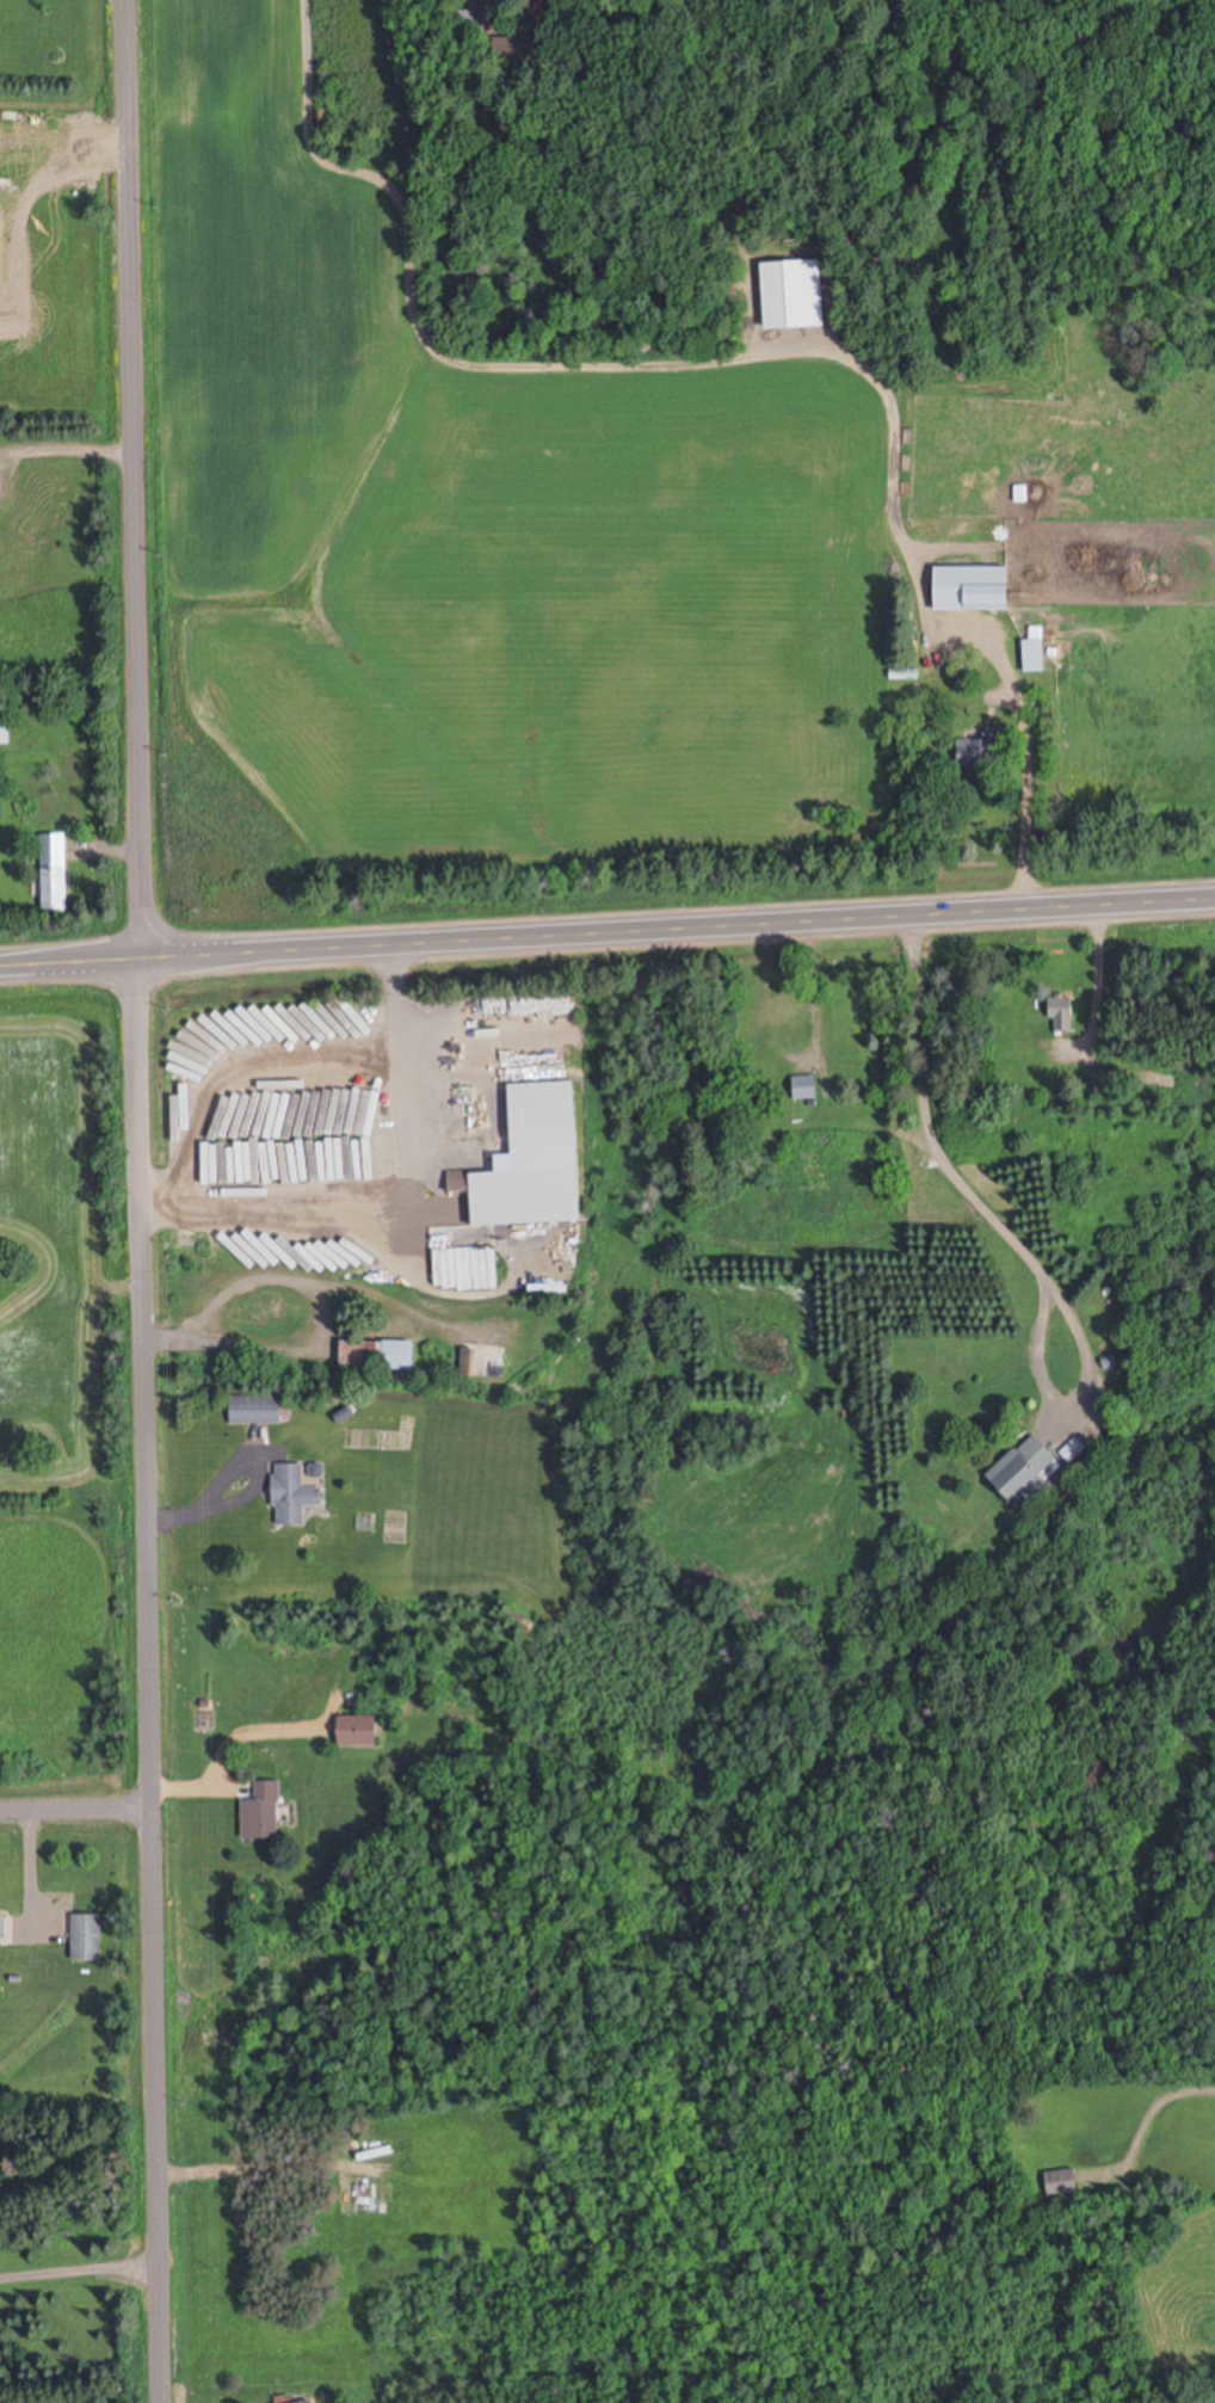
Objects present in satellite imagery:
building: (985, 597)
building: (1032, 655)
building: (6, 733)
building: (980, 748)
building: (54, 871)
road: (606, 929)
building: (1061, 1012)
building: (759, 1031)
building: (804, 1086)
building: (536, 1160)
road: (138, 1201)
building: (380, 1355)
building: (255, 1409)
building: (1022, 1467)
building: (294, 1495)
building: (360, 1733)
road: (74, 1809)
building: (265, 1811)
building: (87, 1937)
building: (1060, 2181)
building: (310, 2402)

